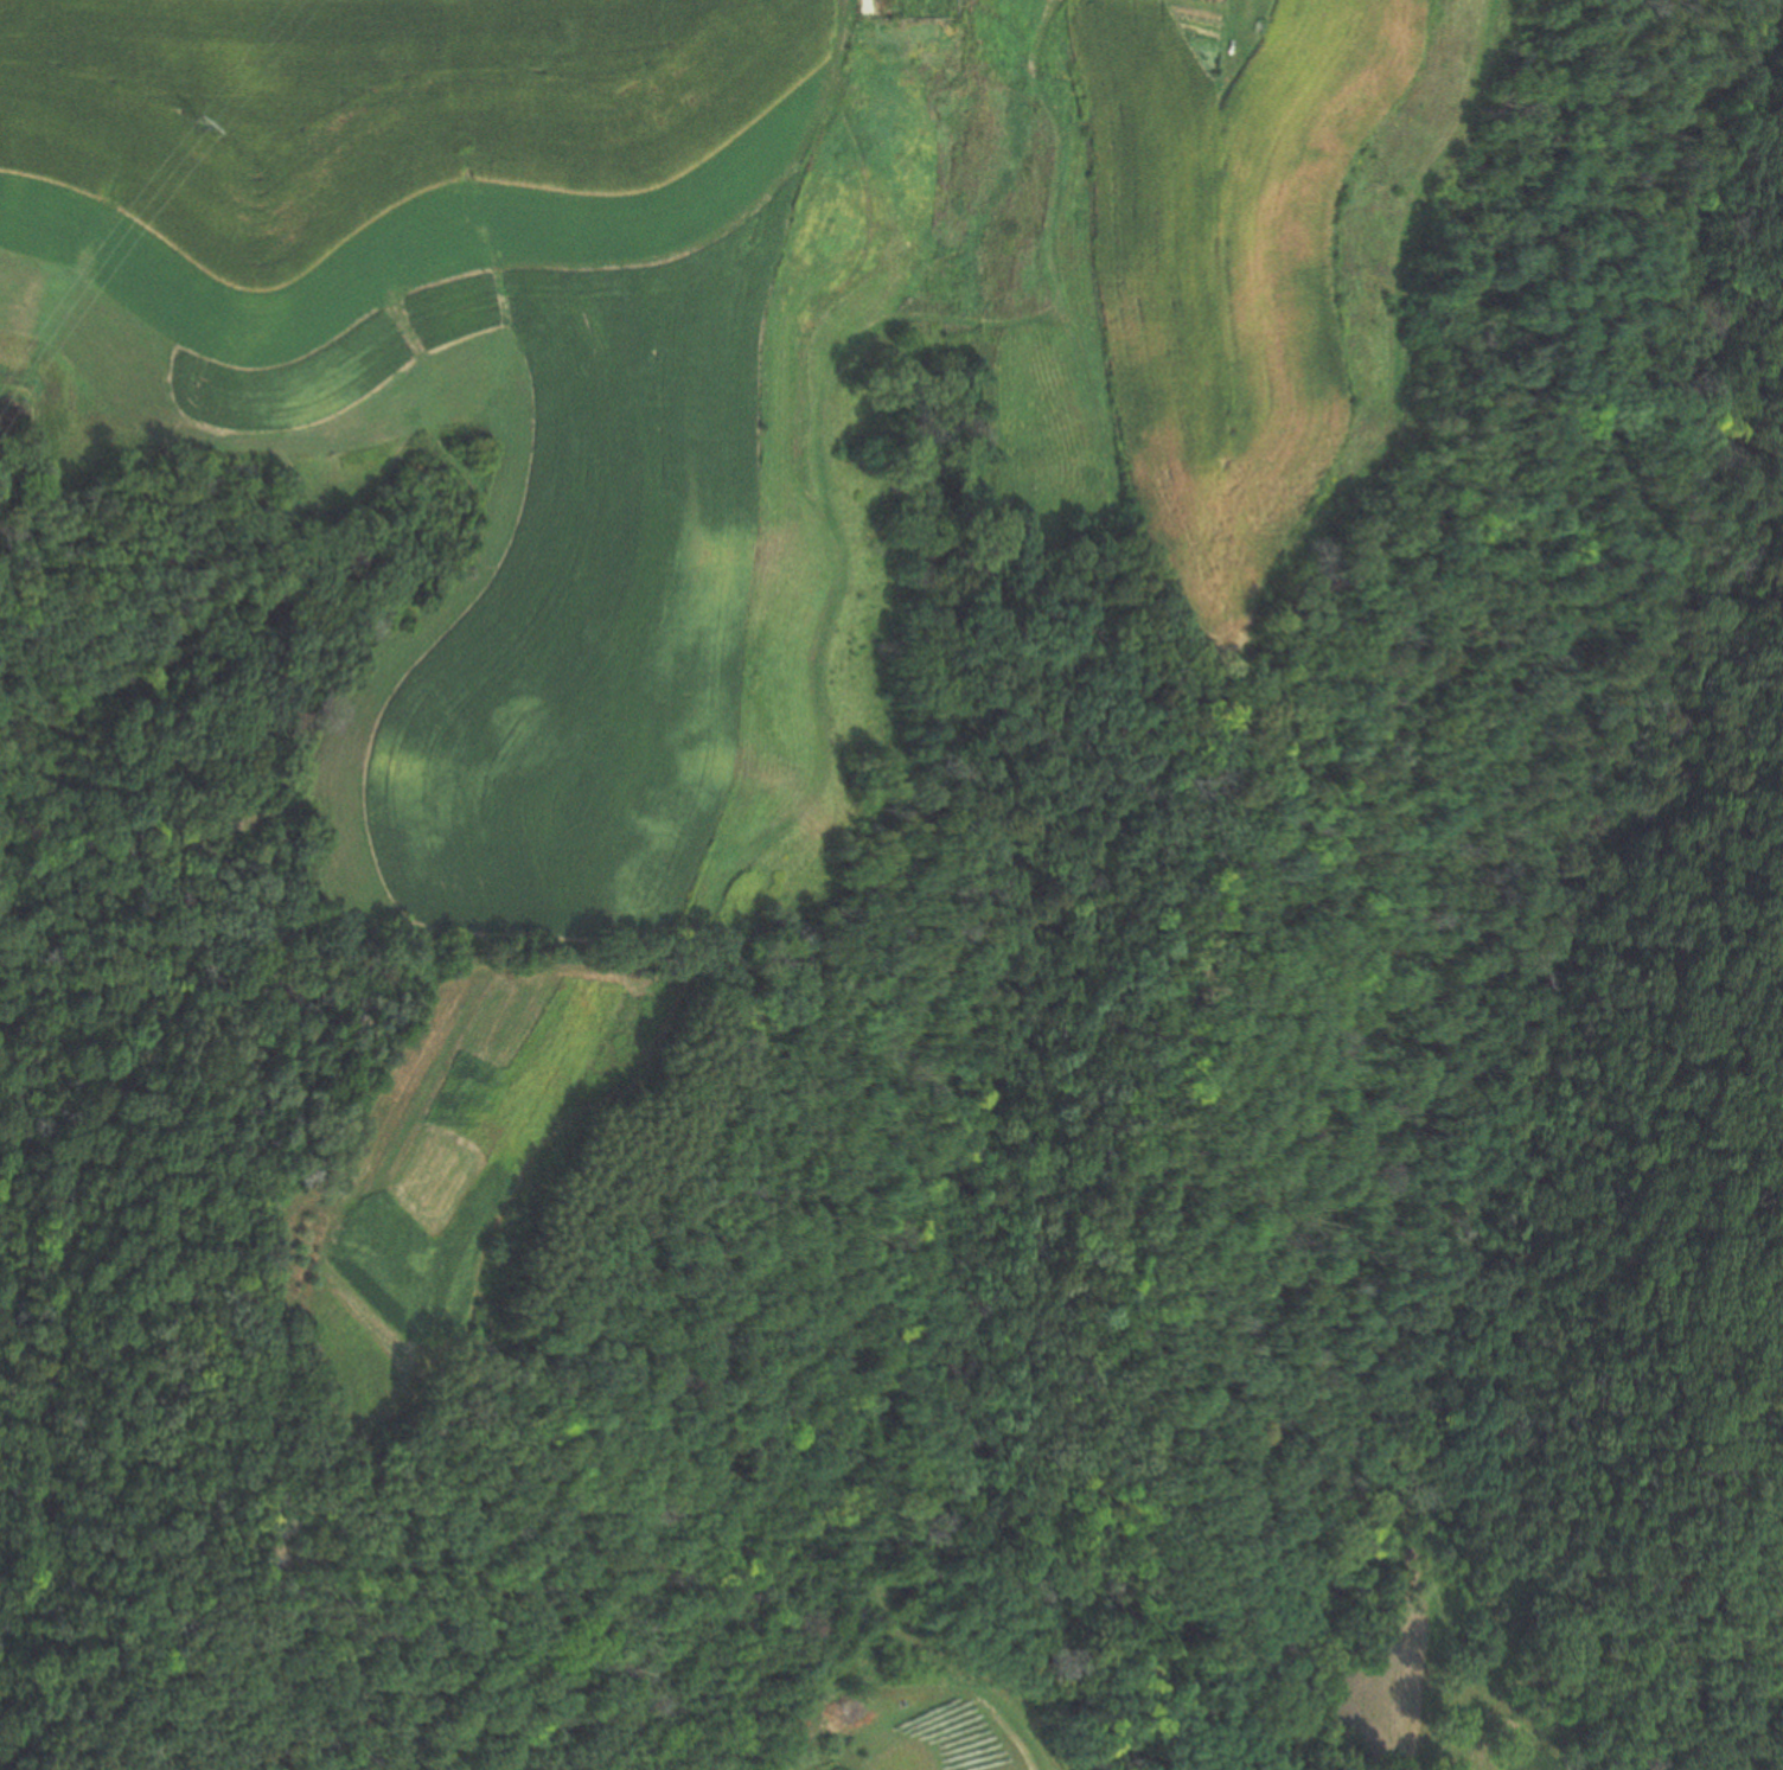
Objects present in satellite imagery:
power tower: (196, 123)
road: (1777, 1764)

